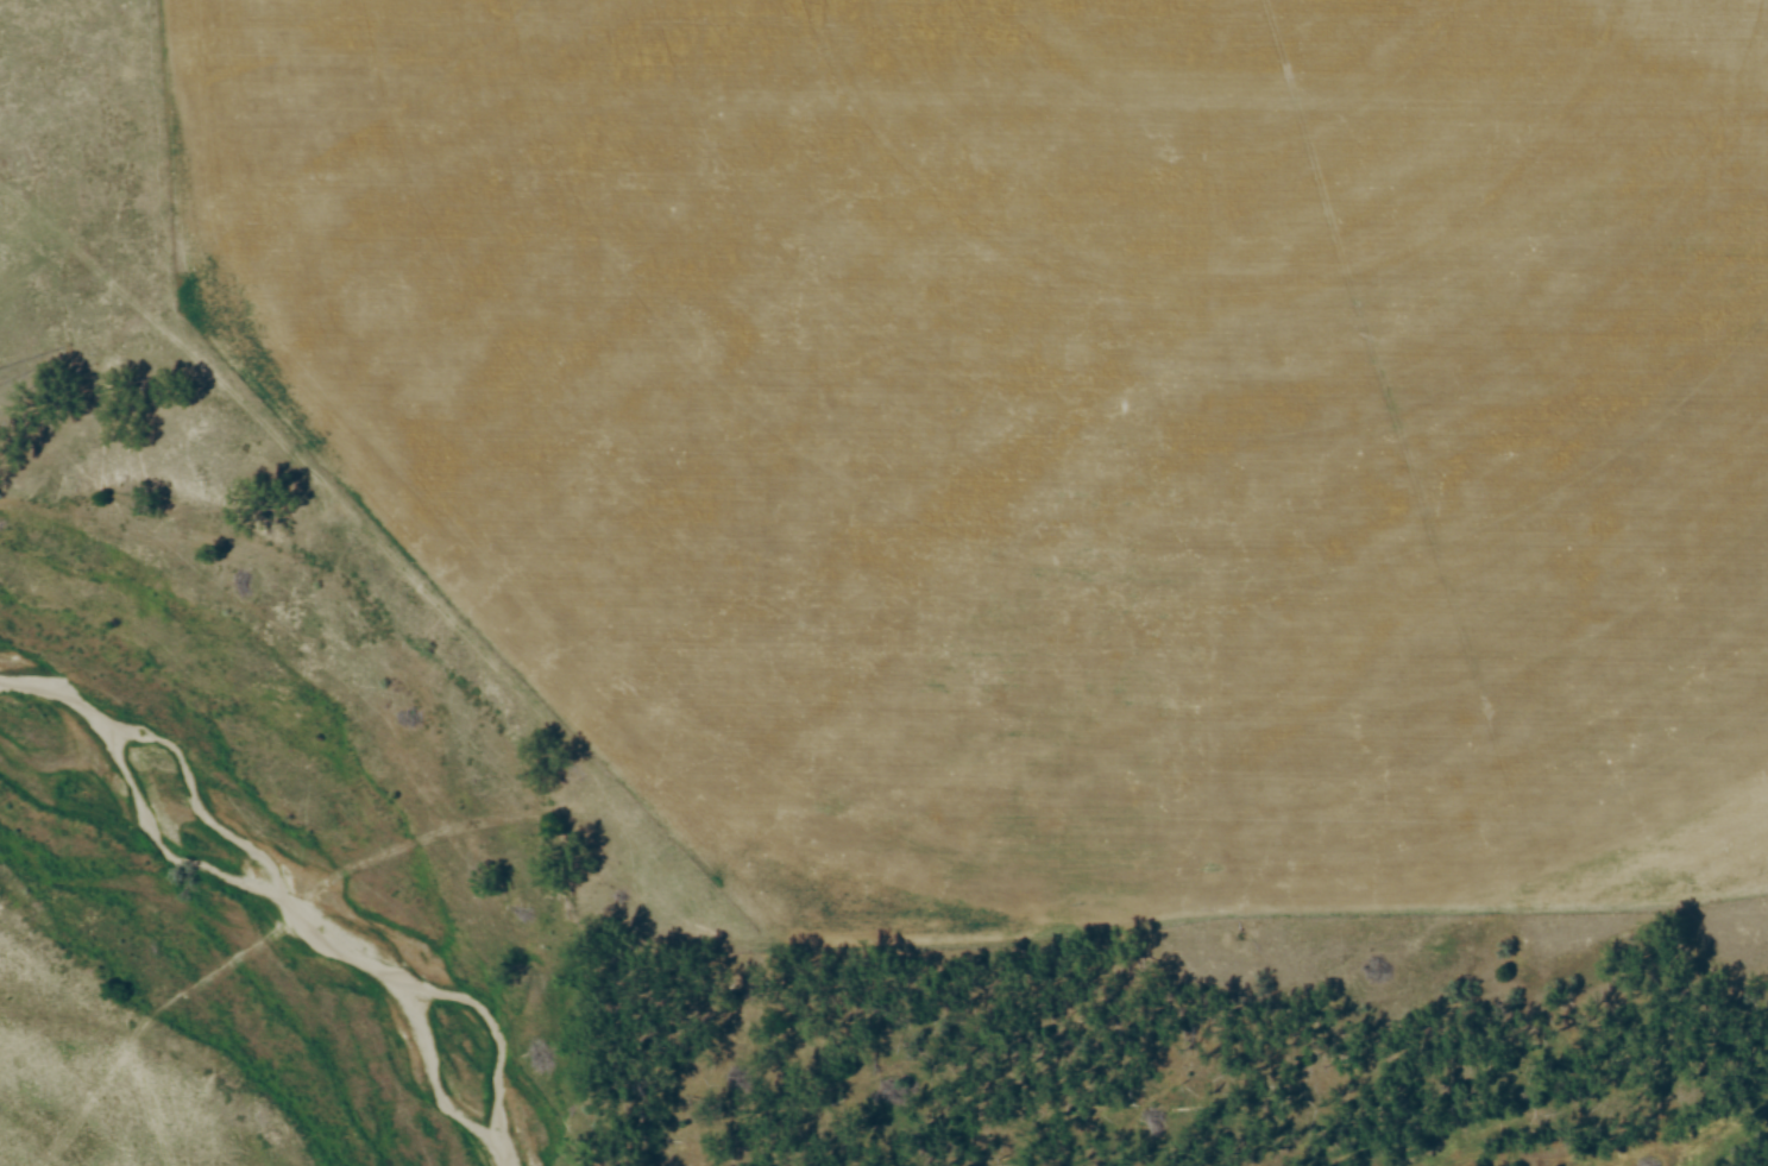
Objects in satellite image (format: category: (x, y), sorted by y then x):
river: (269, 901)
road: (1112, 921)

